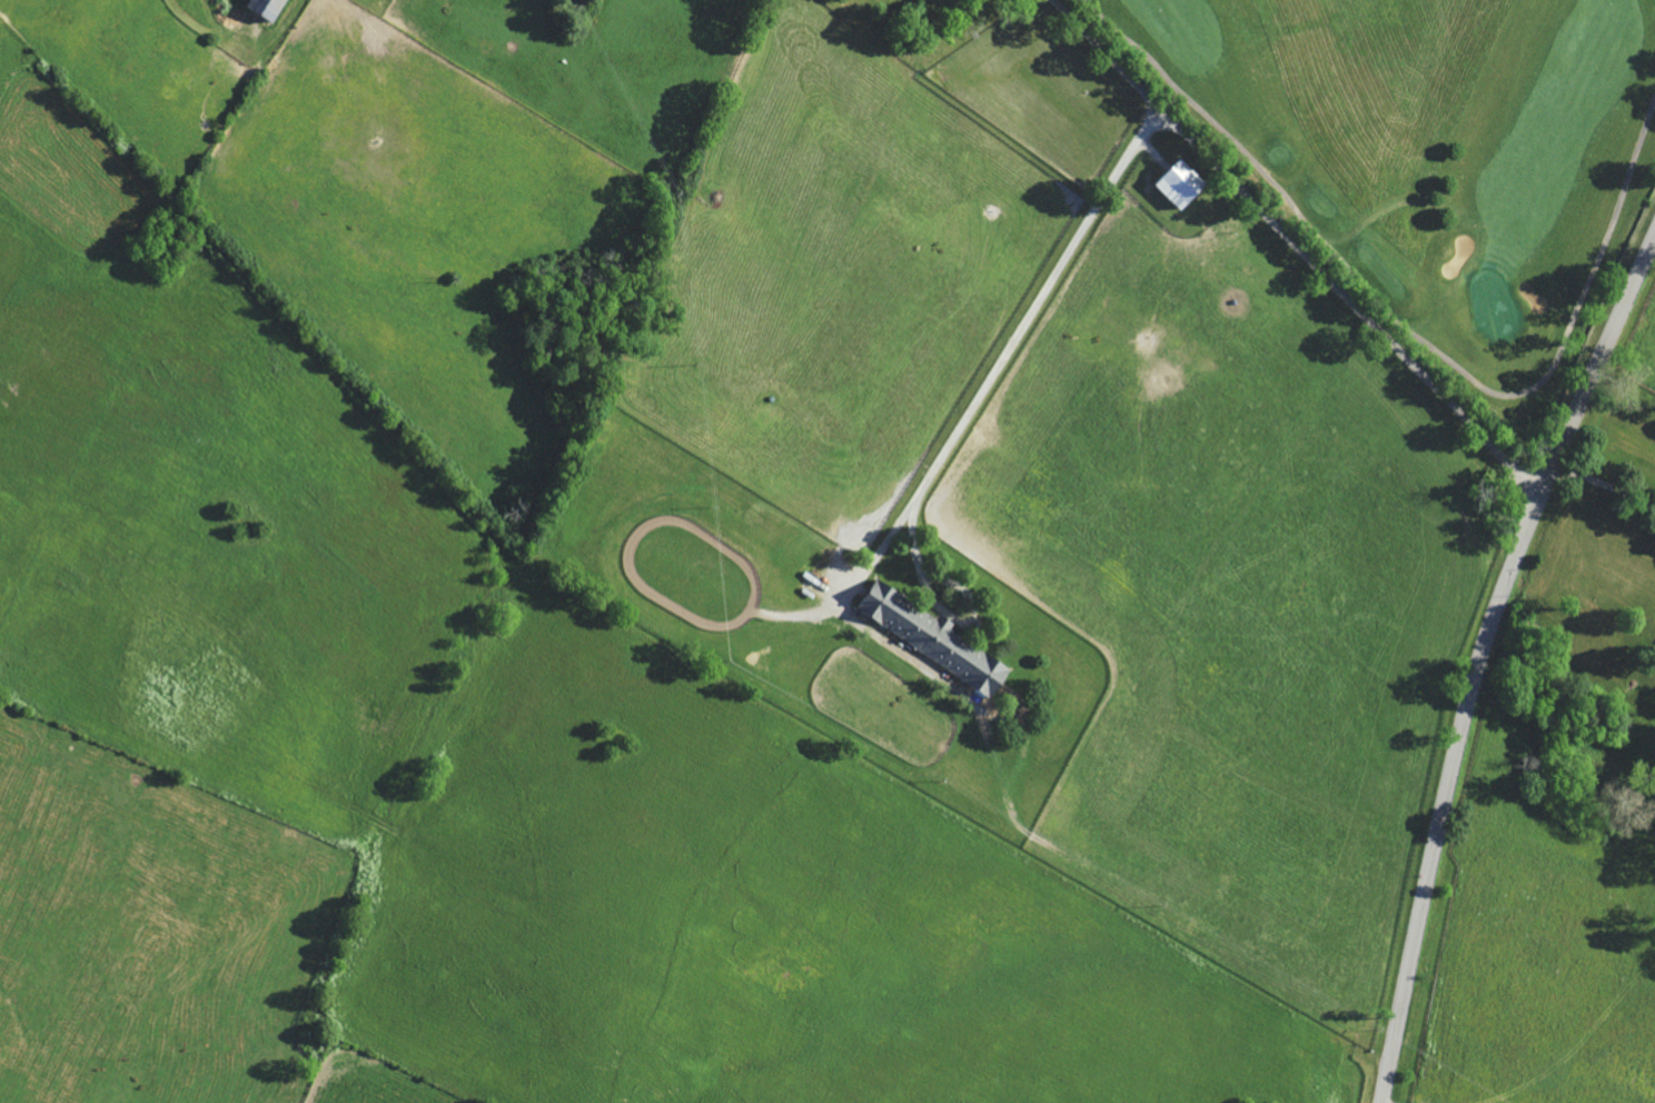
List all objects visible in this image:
building: (274, 9)
park: (1440, 155)
building: (1187, 186)
road: (1298, 250)
road: (1005, 352)
road: (1604, 483)
building: (939, 640)
road: (1478, 652)
crop: (455, 767)

